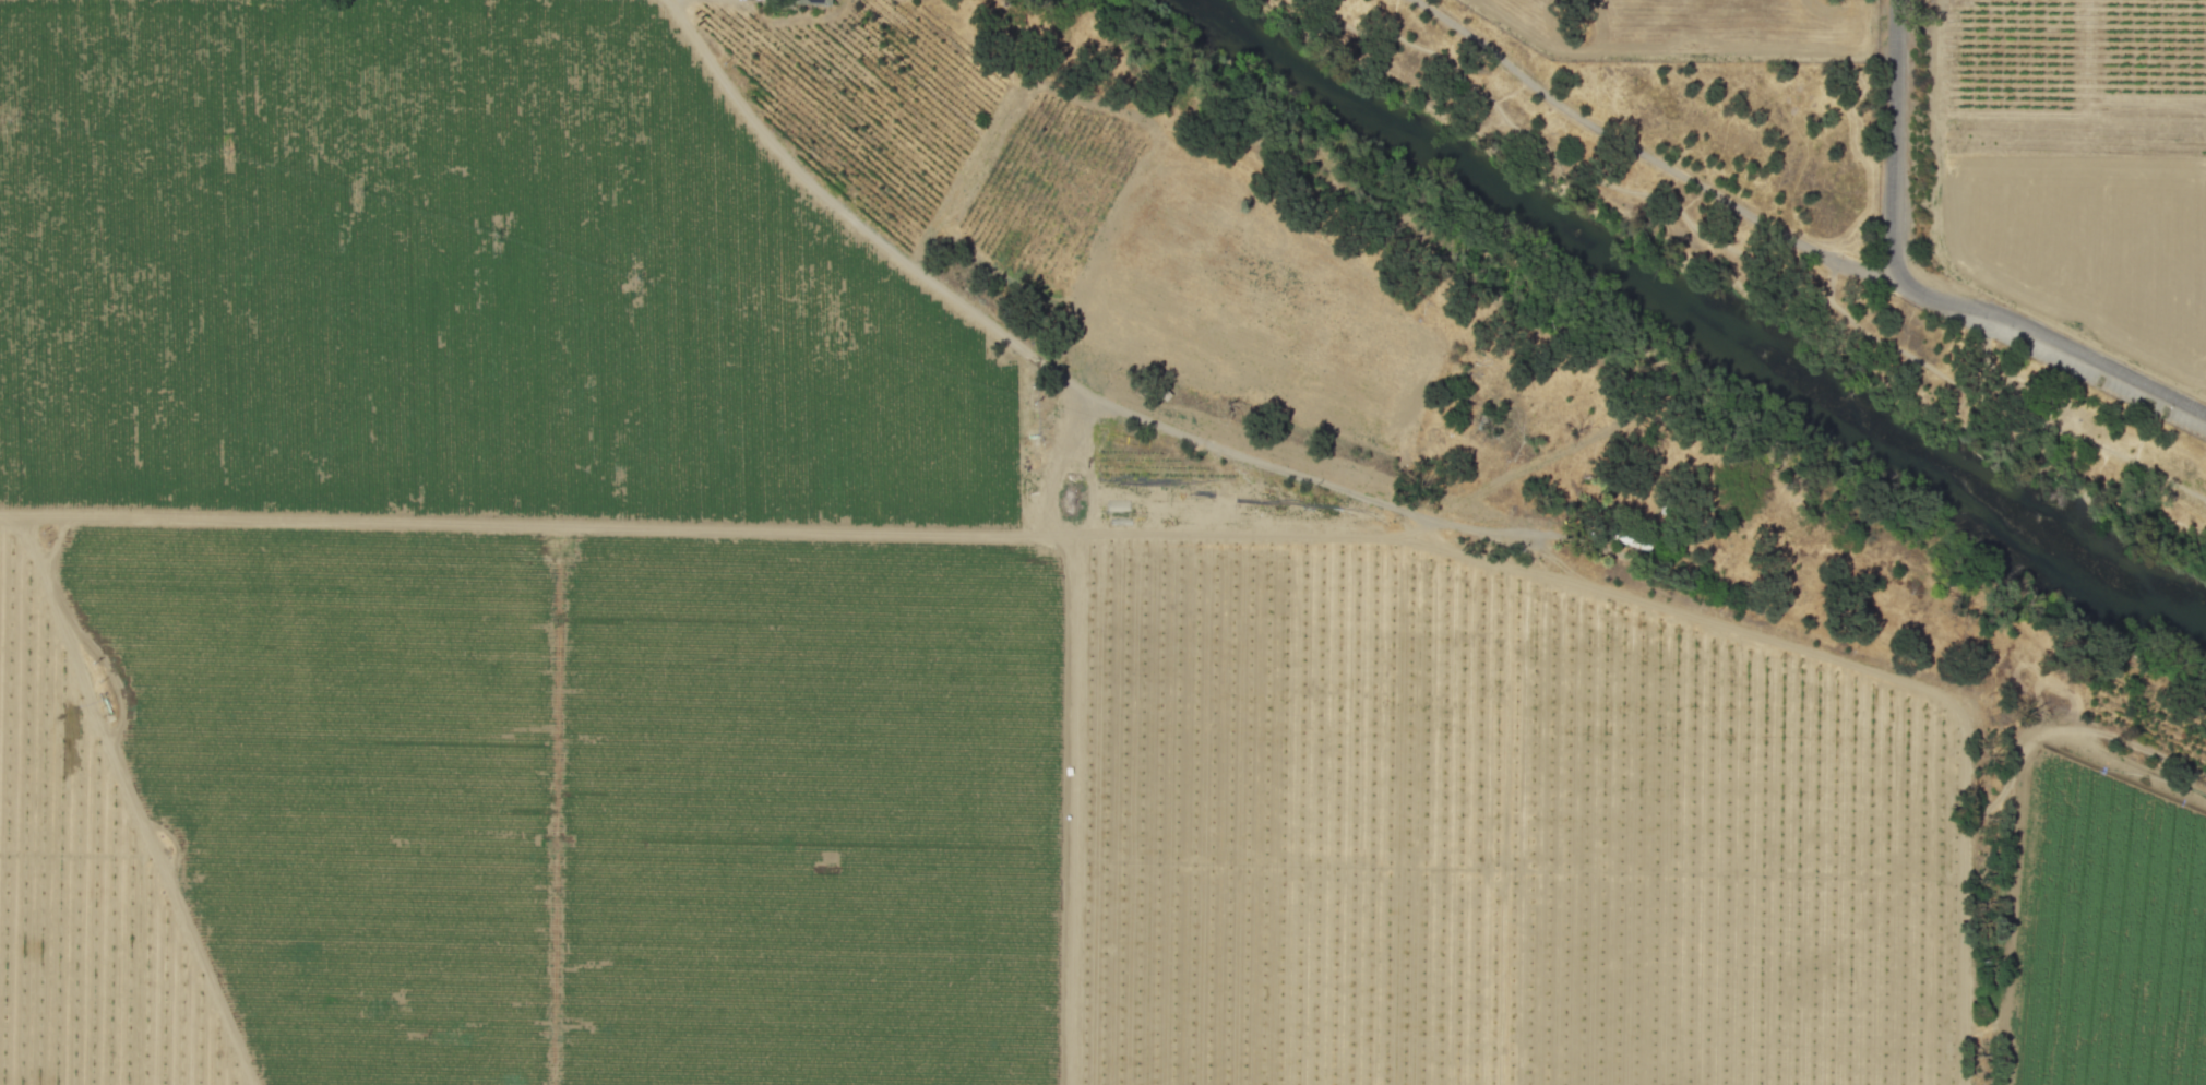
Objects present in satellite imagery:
building: (810, 1)
road: (1805, 56)
road: (1896, 141)
road: (1649, 158)
road: (1705, 258)
road: (1751, 258)
road: (1831, 279)
river: (1715, 302)
road: (1005, 337)
road: (2055, 345)
road: (1996, 371)
road: (1075, 468)
road: (2154, 517)
road: (994, 534)
building: (1633, 540)
road: (2119, 735)
road: (1966, 896)
road: (2012, 908)

